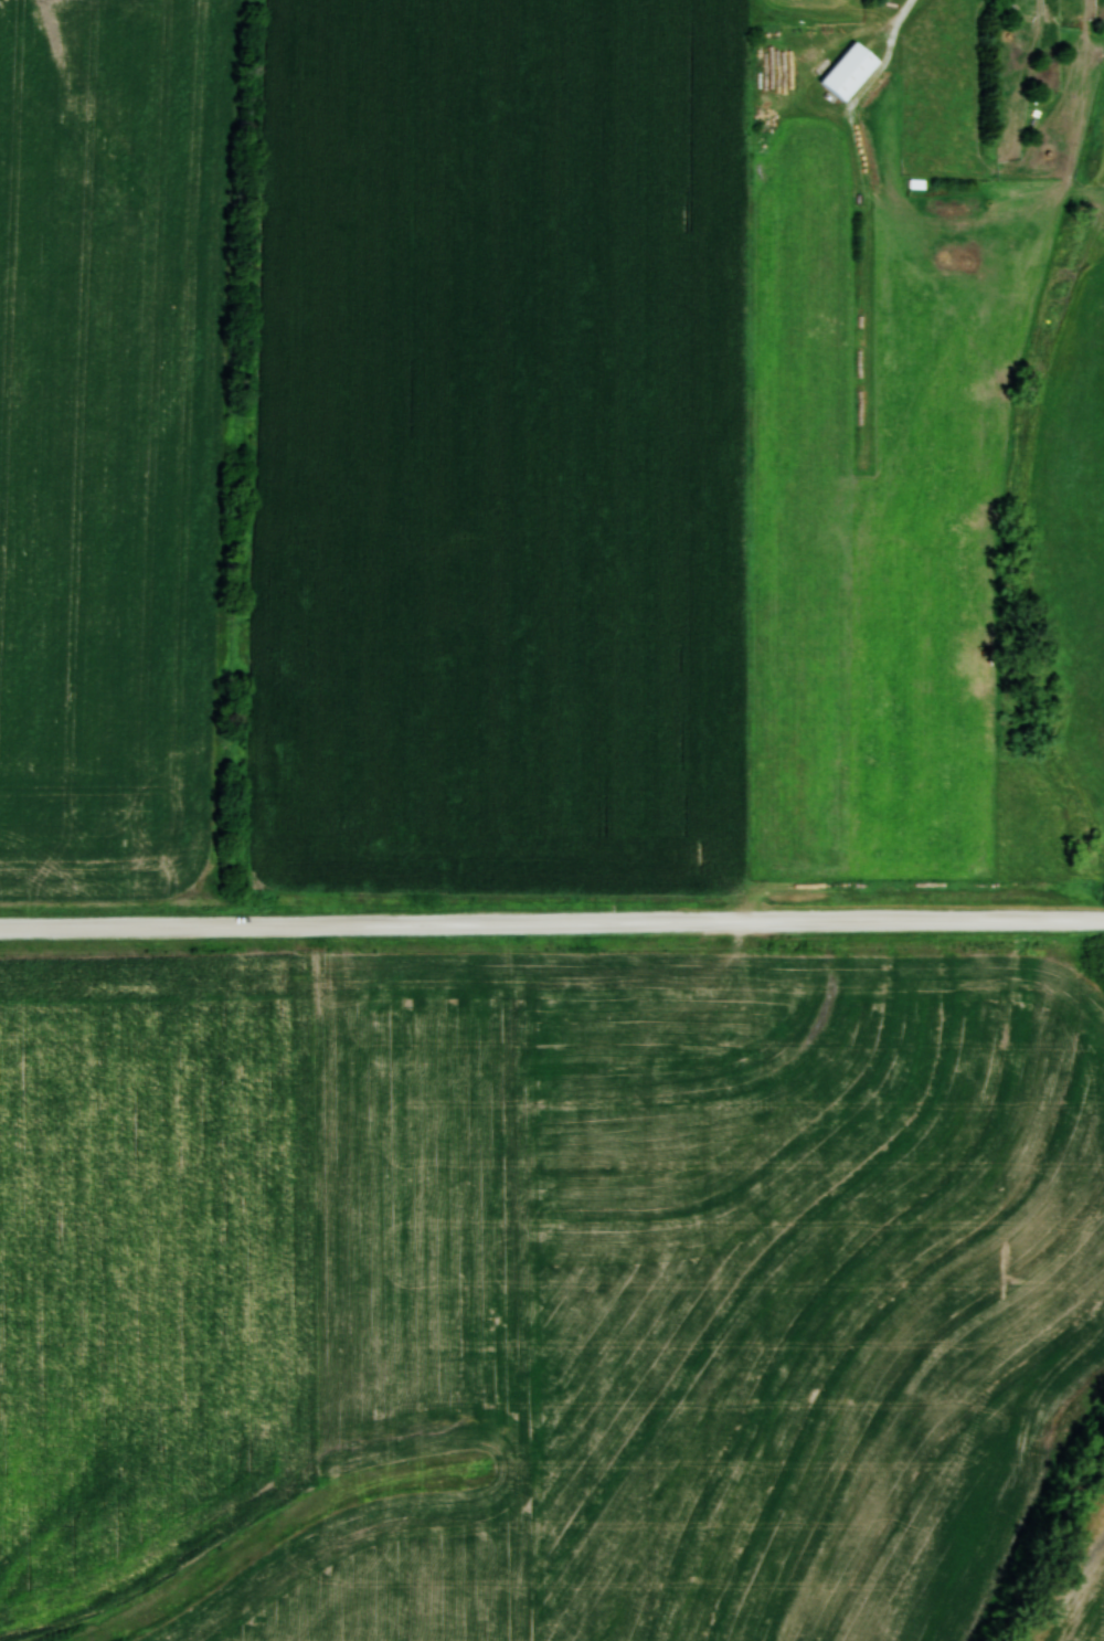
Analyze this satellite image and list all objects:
building: (851, 71)
road: (552, 922)

